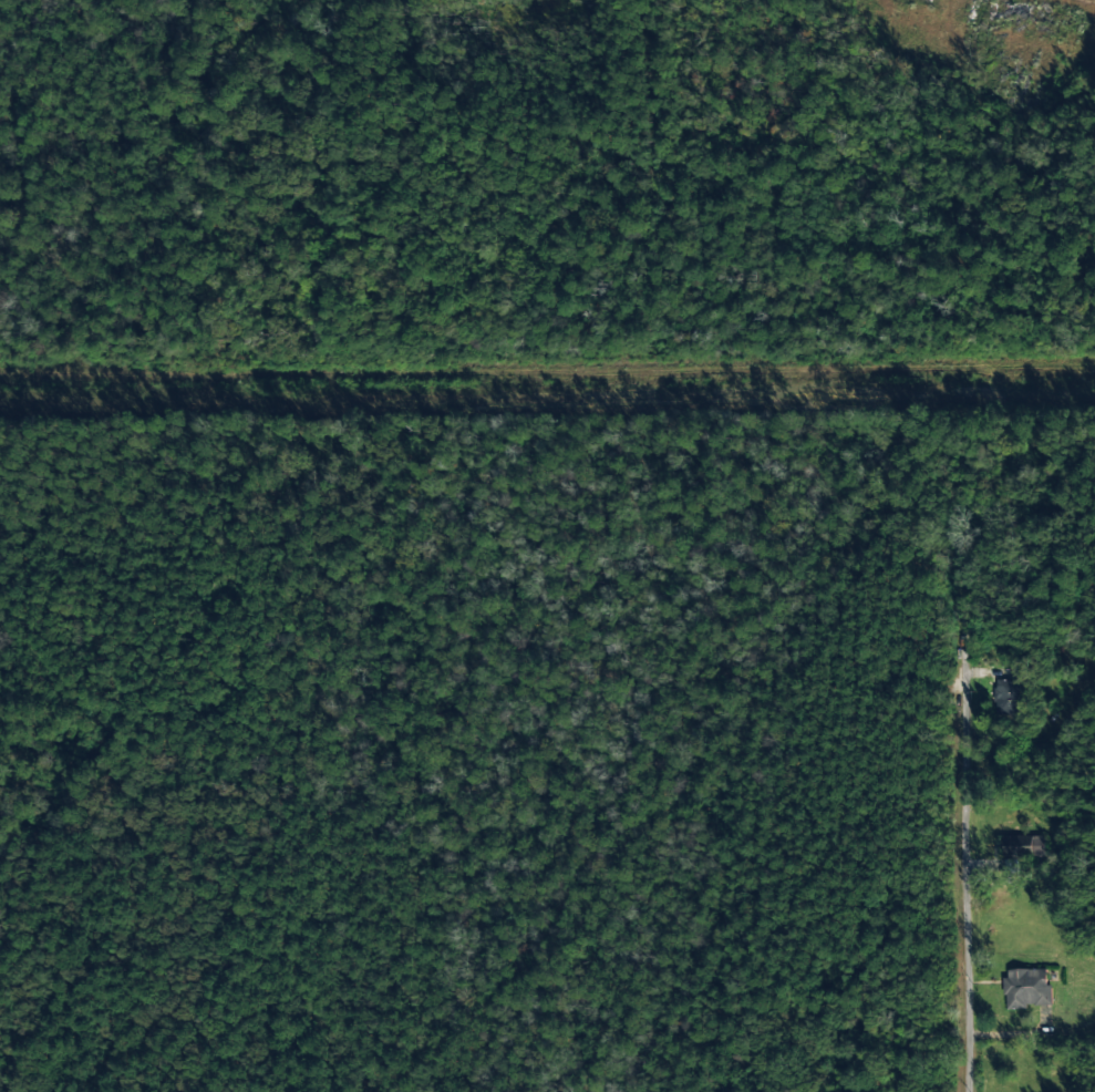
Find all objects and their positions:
road: (944, 836)

